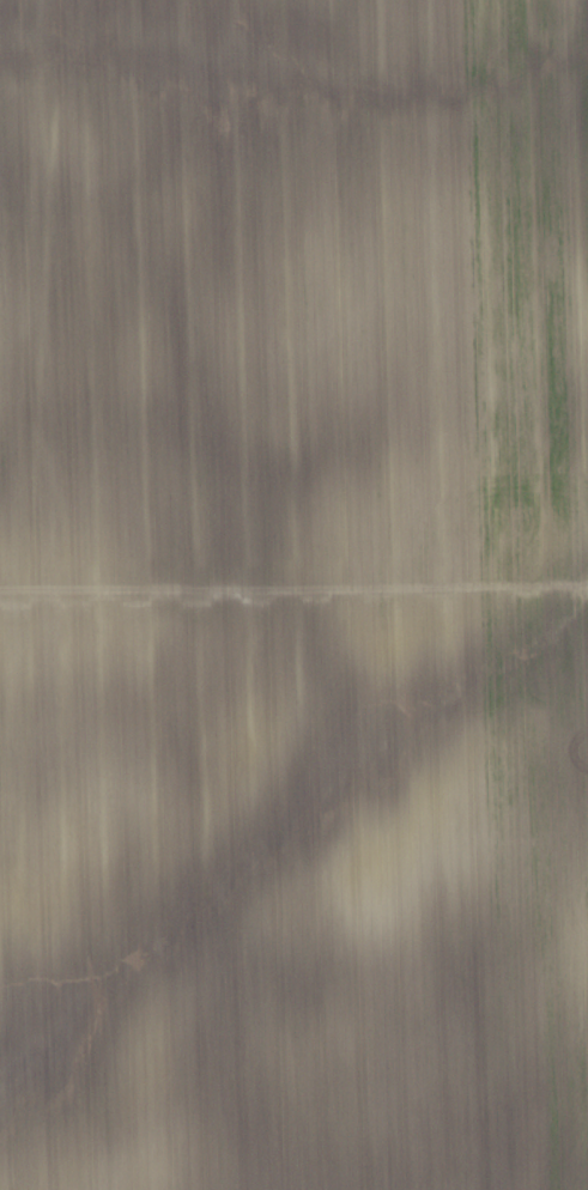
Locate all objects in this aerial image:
crop: (293, 595)

